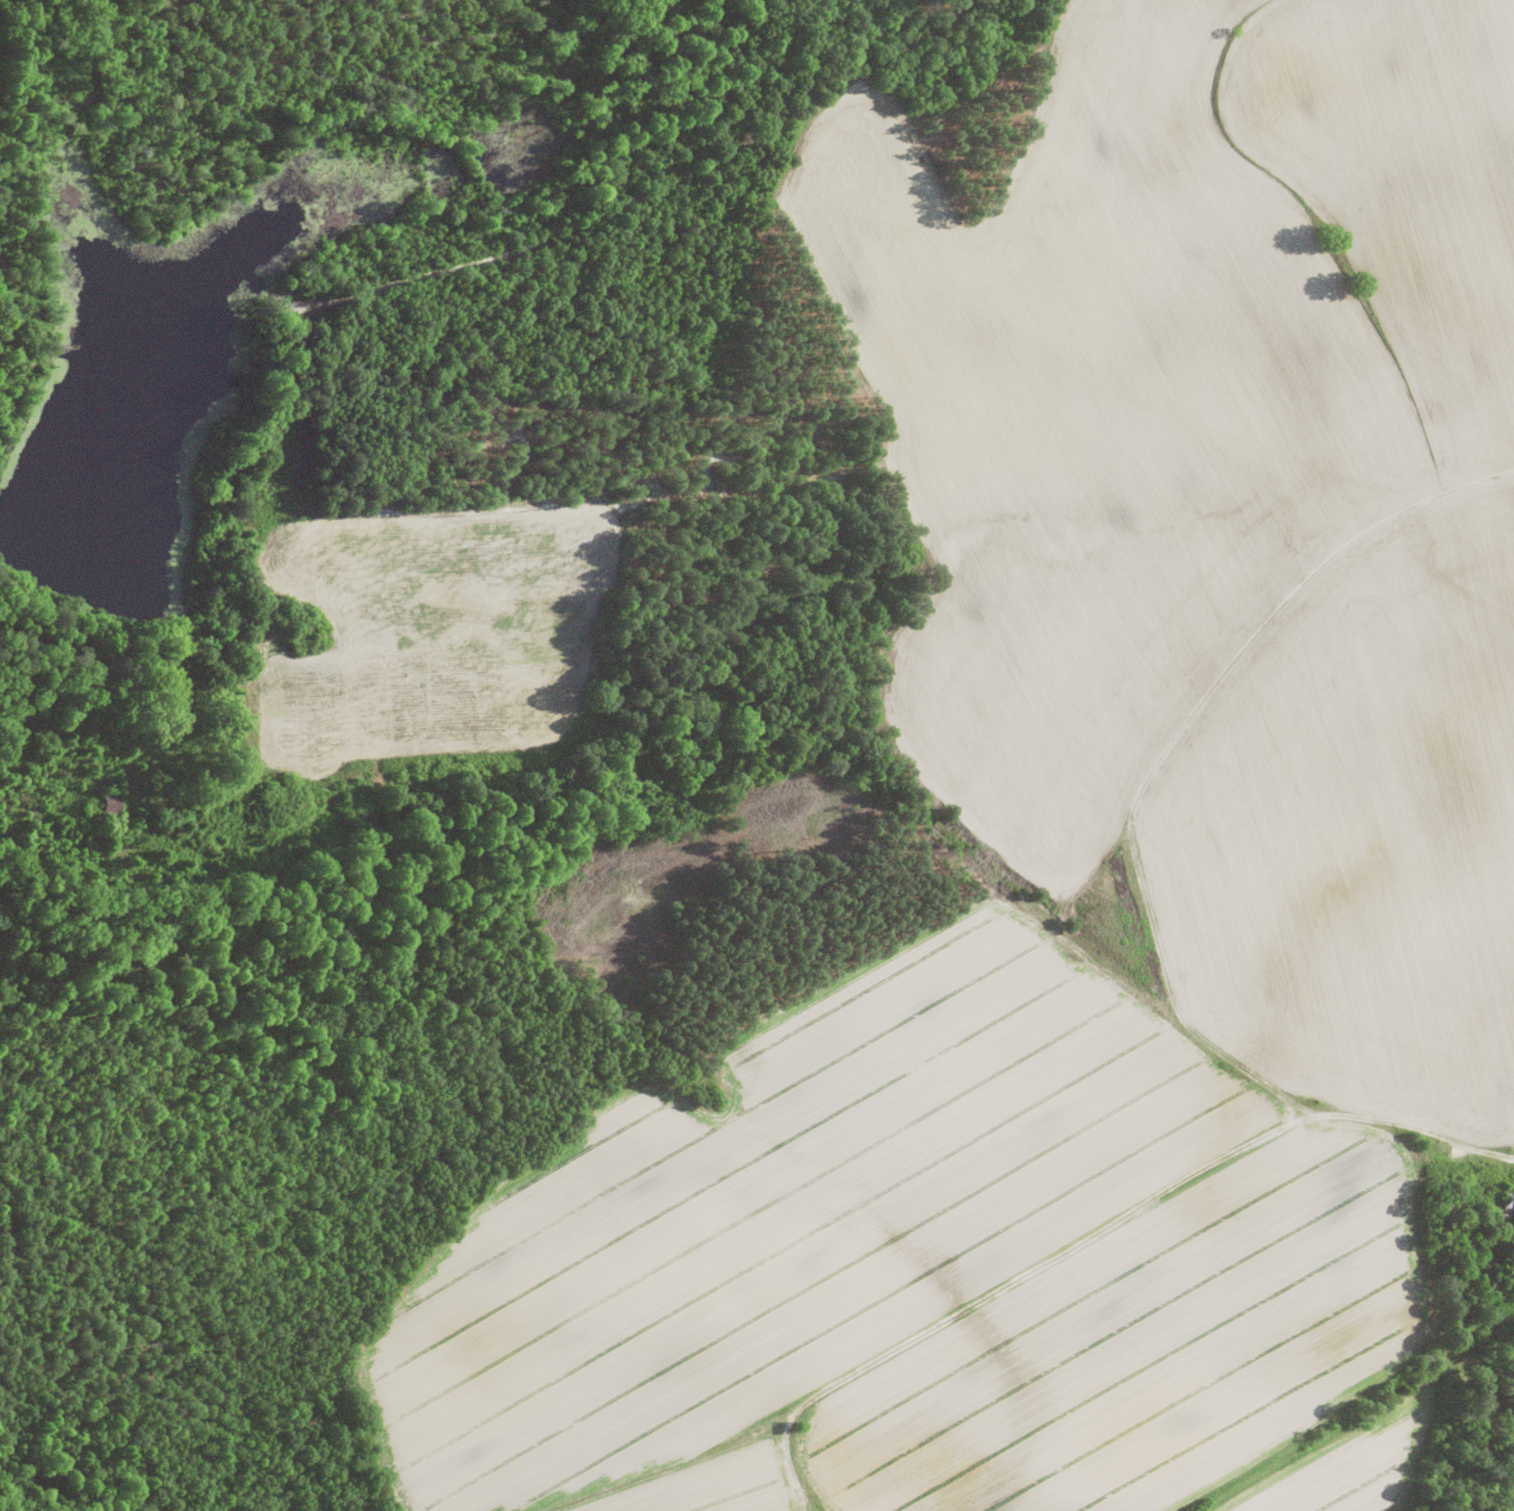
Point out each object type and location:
road: (965, 847)

